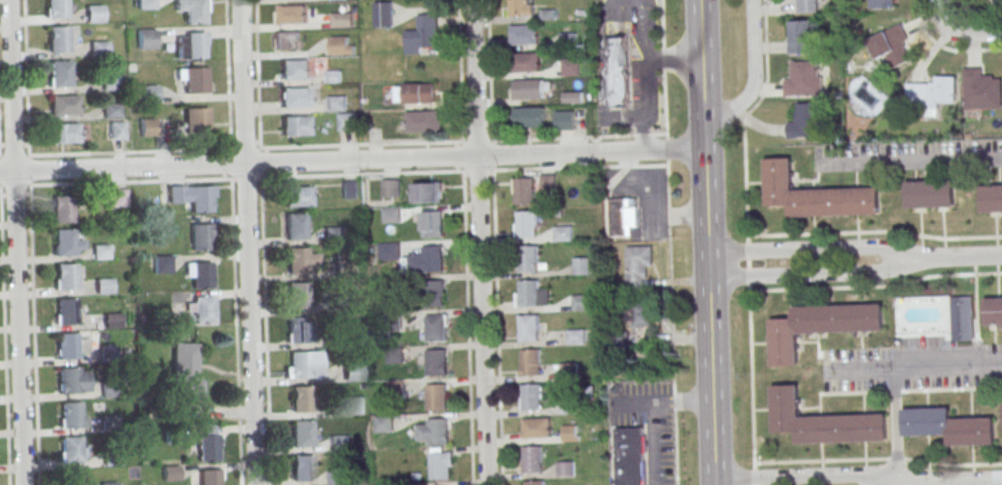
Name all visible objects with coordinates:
building: (146, 4)
building: (880, 4)
building: (807, 6)
building: (56, 8)
building: (521, 8)
building: (192, 10)
road: (942, 11)
building: (93, 12)
building: (291, 14)
building: (384, 15)
building: (342, 20)
road: (974, 32)
building: (421, 34)
building: (524, 34)
building: (803, 36)
building: (146, 38)
building: (58, 39)
building: (286, 39)
building: (569, 40)
building: (191, 44)
building: (340, 46)
building: (892, 47)
building: (98, 48)
road: (980, 49)
building: (526, 61)
road: (664, 63)
building: (571, 66)
building: (295, 68)
building: (617, 72)
building: (59, 73)
road: (26, 75)
building: (333, 76)
building: (195, 79)
road: (753, 79)
building: (805, 79)
building: (110, 81)
building: (528, 89)
building: (981, 90)
building: (149, 93)
building: (415, 93)
building: (932, 93)
building: (295, 97)
building: (63, 104)
building: (337, 104)
building: (110, 110)
building: (529, 116)
building: (197, 120)
building: (564, 120)
building: (424, 121)
building: (807, 121)
building: (348, 122)
building: (295, 125)
building: (147, 126)
building: (116, 130)
building: (63, 132)
road: (431, 141)
road: (352, 159)
road: (917, 162)
road: (0, 178)
building: (547, 182)
building: (390, 187)
building: (349, 189)
building: (524, 191)
building: (427, 192)
building: (815, 194)
building: (930, 194)
building: (298, 196)
building: (118, 197)
building: (200, 198)
building: (992, 198)
building: (62, 209)
building: (391, 215)
building: (623, 217)
building: (432, 223)
building: (527, 224)
building: (295, 226)
road: (874, 231)
building: (564, 233)
building: (200, 235)
road: (746, 239)
road: (15, 242)
building: (64, 242)
road: (233, 242)
road: (247, 242)
road: (262, 242)
road: (479, 242)
road: (704, 242)
road: (811, 246)
building: (389, 250)
road: (958, 257)
building: (432, 258)
building: (529, 259)
building: (296, 260)
building: (162, 263)
building: (581, 265)
building: (638, 266)
road: (811, 271)
building: (200, 274)
building: (66, 276)
road: (875, 285)
building: (104, 287)
building: (432, 293)
building: (530, 293)
building: (296, 295)
building: (341, 298)
building: (581, 301)
road: (670, 306)
building: (203, 309)
building: (66, 311)
building: (993, 311)
building: (638, 313)
road: (33, 318)
building: (111, 319)
building: (962, 319)
building: (435, 327)
building: (818, 327)
building: (530, 328)
building: (298, 330)
road: (4, 335)
building: (577, 337)
building: (67, 345)
building: (531, 362)
building: (436, 363)
building: (299, 364)
road: (927, 364)
parking lot: (912, 367)
building: (352, 371)
building: (184, 373)
building: (72, 380)
building: (435, 397)
building: (532, 397)
building: (301, 398)
road: (662, 401)
building: (354, 405)
building: (71, 414)
building: (822, 422)
building: (383, 423)
road: (895, 425)
building: (948, 425)
building: (537, 428)
building: (438, 431)
building: (569, 432)
building: (302, 433)
building: (207, 442)
building: (339, 442)
road: (654, 443)
building: (70, 449)
building: (631, 456)
building: (534, 460)
building: (440, 466)
building: (302, 468)
building: (566, 468)
building: (170, 472)
road: (795, 474)
building: (208, 476)
building: (336, 476)
building: (70, 477)
building: (535, 482)
road: (936, 482)
building: (108, 483)

